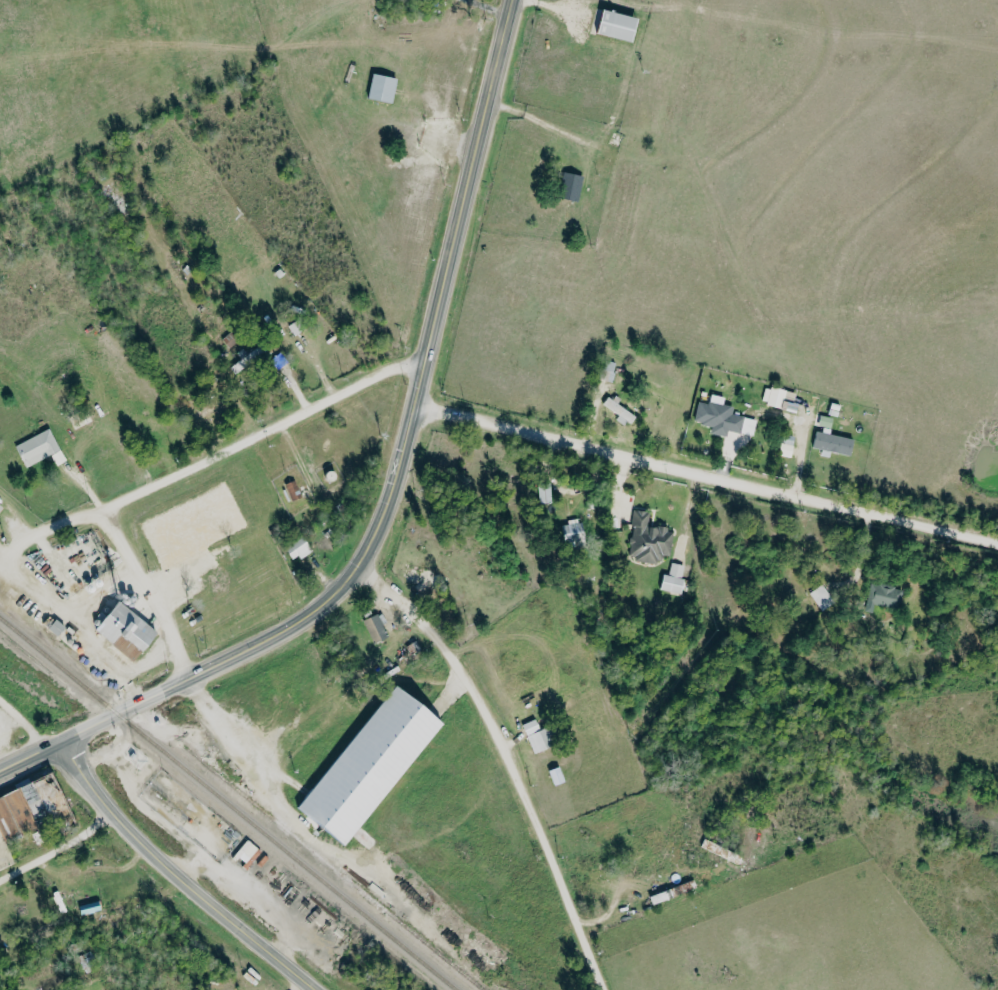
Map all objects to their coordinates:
building: (618, 25)
building: (384, 87)
road: (469, 179)
building: (572, 186)
building: (247, 360)
building: (280, 360)
building: (609, 370)
building: (780, 397)
building: (210, 410)
building: (724, 418)
building: (833, 439)
building: (41, 448)
road: (212, 456)
road: (705, 473)
building: (294, 490)
building: (546, 493)
building: (1, 508)
building: (573, 531)
building: (650, 539)
building: (299, 549)
road: (361, 560)
building: (675, 579)
road: (148, 590)
building: (884, 596)
building: (823, 597)
road: (77, 625)
building: (377, 628)
building: (126, 630)
road: (26, 723)
road: (95, 726)
building: (538, 737)
road: (506, 760)
building: (370, 764)
building: (558, 776)
road: (270, 790)
railway: (228, 804)
building: (32, 805)
road: (59, 851)
building: (247, 851)
railway: (335, 868)
road: (177, 875)
building: (670, 892)

